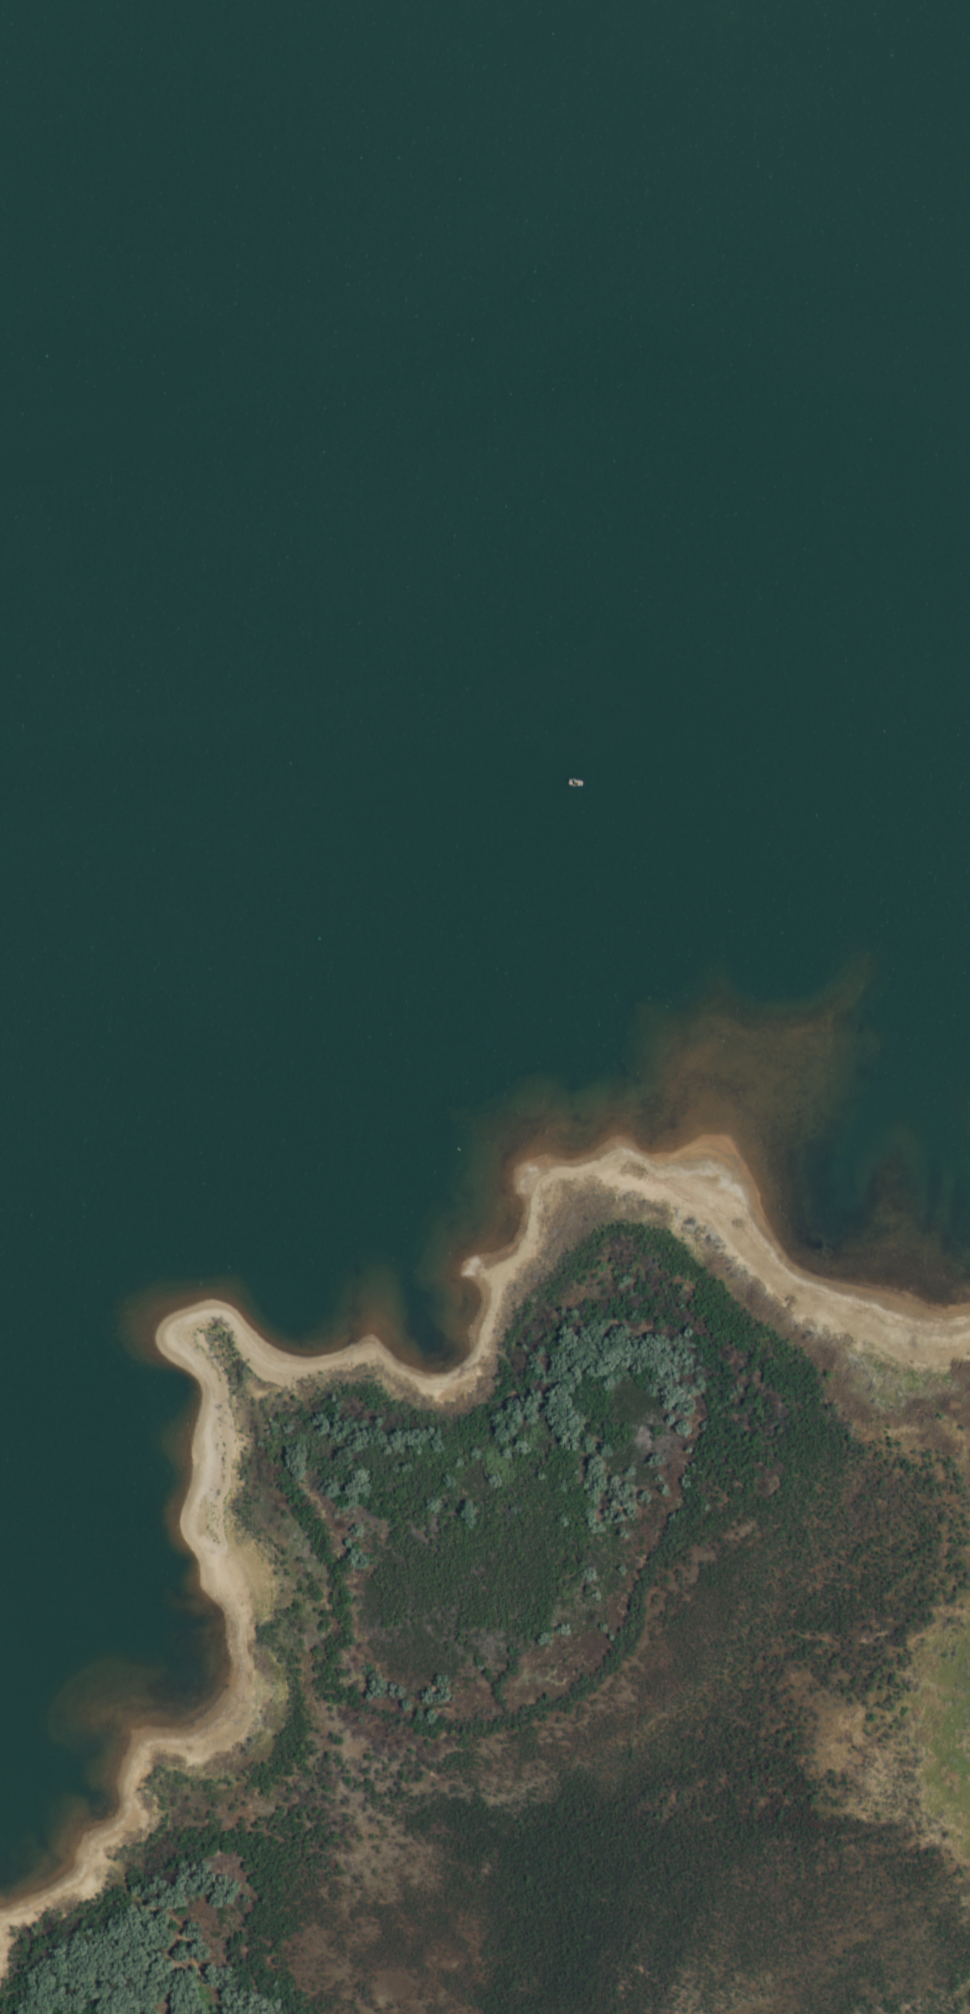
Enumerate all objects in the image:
river: (485, 378)

